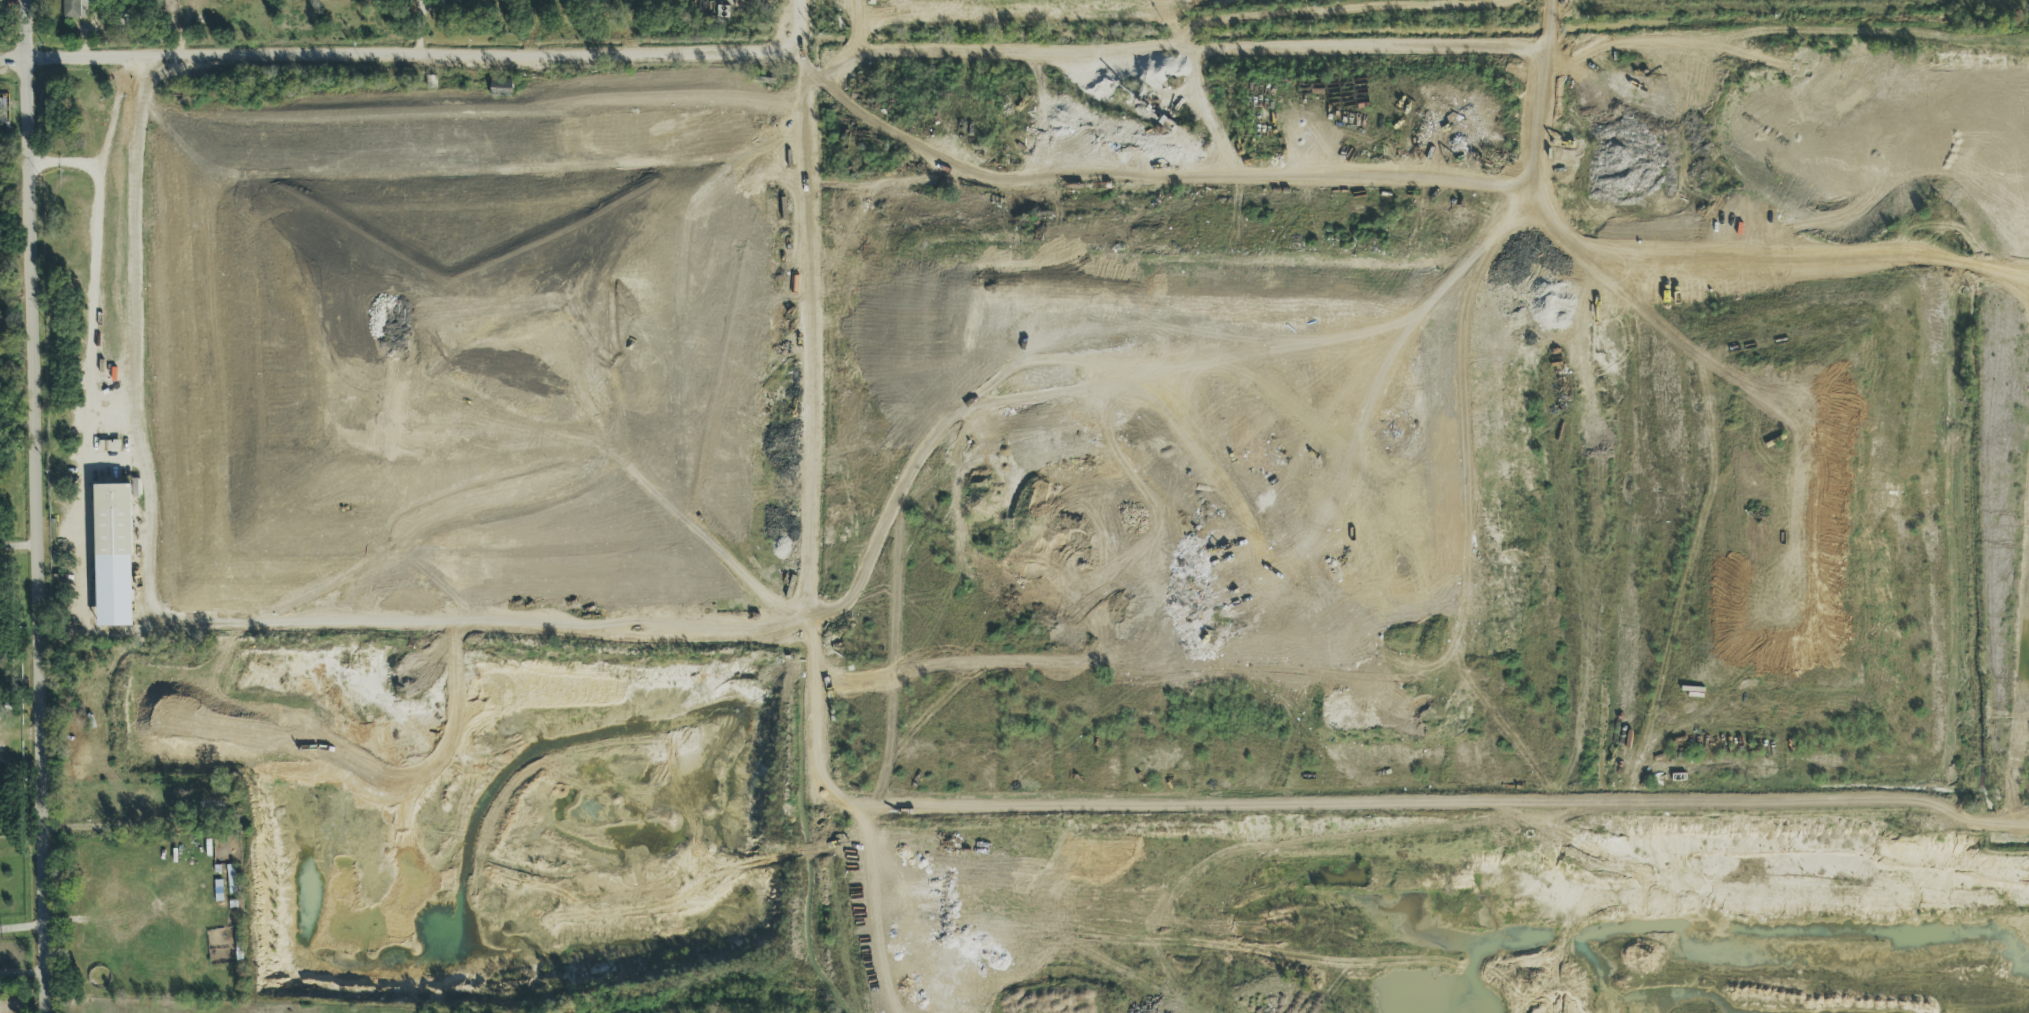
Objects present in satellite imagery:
building: (465, 1)
building: (74, 9)
road: (1416, 45)
road: (414, 56)
road: (13, 60)
building: (501, 88)
road: (1536, 111)
road: (1211, 117)
road: (14, 161)
road: (1154, 185)
road: (873, 191)
road: (1547, 213)
road: (1794, 263)
road: (94, 266)
road: (131, 290)
landfill: (470, 351)
road: (815, 427)
building: (110, 447)
road: (37, 506)
road: (19, 547)
building: (113, 556)
road: (401, 619)
building: (217, 806)
building: (291, 809)
road: (23, 929)
road: (23, 975)

